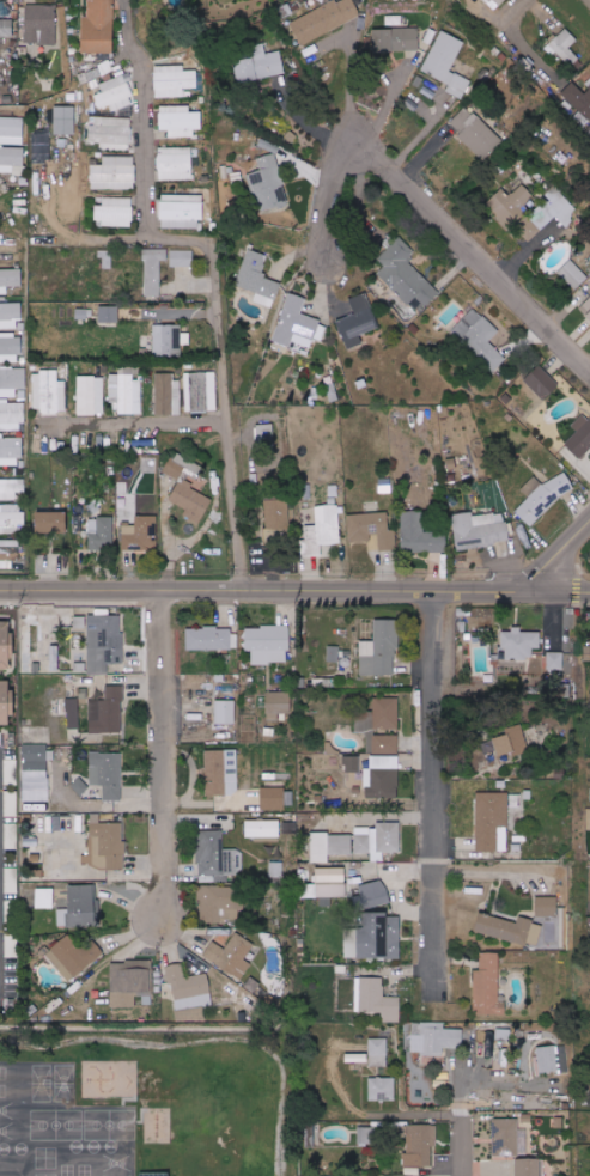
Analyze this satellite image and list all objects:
building: (495, 2)
building: (475, 7)
road: (513, 12)
building: (326, 19)
building: (41, 24)
building: (99, 26)
building: (6, 28)
building: (395, 42)
building: (565, 47)
building: (446, 63)
building: (260, 66)
building: (96, 73)
building: (174, 80)
building: (114, 93)
building: (578, 99)
building: (65, 121)
building: (178, 121)
building: (11, 127)
building: (111, 133)
building: (475, 133)
building: (12, 159)
building: (175, 163)
building: (114, 173)
building: (268, 183)
building: (181, 211)
building: (114, 212)
building: (555, 213)
road: (434, 220)
road: (78, 237)
building: (8, 249)
building: (181, 257)
building: (105, 258)
building: (153, 270)
building: (573, 274)
building: (405, 275)
building: (10, 279)
building: (258, 279)
road: (206, 292)
building: (586, 307)
building: (109, 315)
building: (10, 316)
building: (359, 321)
building: (297, 324)
building: (480, 337)
building: (169, 340)
building: (10, 348)
building: (12, 380)
building: (543, 383)
building: (126, 391)
building: (48, 392)
building: (200, 392)
building: (90, 395)
building: (168, 395)
building: (11, 415)
road: (133, 422)
building: (266, 435)
building: (580, 437)
building: (10, 450)
building: (175, 470)
building: (11, 488)
building: (185, 495)
building: (542, 498)
building: (11, 519)
building: (51, 522)
building: (275, 522)
building: (322, 530)
building: (371, 530)
building: (480, 530)
building: (101, 534)
building: (141, 534)
building: (419, 534)
building: (8, 554)
building: (50, 560)
road: (560, 560)
road: (294, 590)
building: (211, 638)
building: (104, 641)
building: (521, 642)
building: (5, 644)
building: (268, 644)
building: (381, 650)
building: (554, 660)
building: (5, 701)
building: (278, 703)
building: (108, 711)
building: (225, 711)
building: (379, 714)
building: (511, 741)
building: (383, 744)
road: (163, 755)
building: (351, 763)
building: (36, 772)
building: (221, 772)
building: (107, 773)
building: (383, 776)
road: (438, 785)
building: (83, 786)
building: (273, 798)
building: (491, 819)
building: (263, 828)
building: (31, 834)
building: (378, 839)
building: (107, 845)
building: (330, 845)
building: (217, 854)
building: (276, 869)
building: (213, 878)
building: (375, 892)
building: (44, 897)
building: (221, 903)
building: (547, 906)
building: (79, 907)
building: (511, 928)
building: (379, 934)
building: (352, 946)
building: (231, 955)
building: (73, 956)
building: (129, 981)
building: (488, 986)
building: (189, 988)
building: (376, 999)
building: (436, 1038)
building: (378, 1052)
building: (357, 1058)
building: (553, 1059)
building: (382, 1089)
building: (366, 1135)
road: (466, 1135)
building: (509, 1138)
building: (420, 1145)
building: (529, 1166)
building: (151, 1174)

